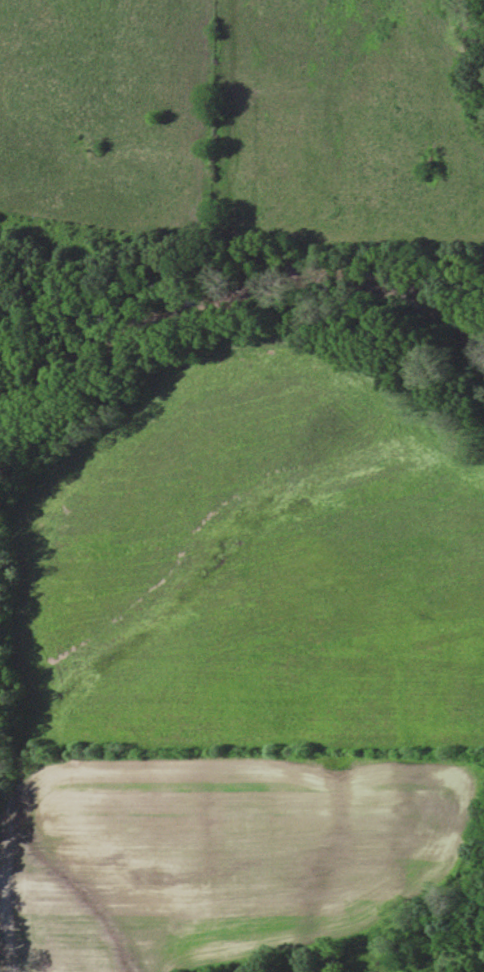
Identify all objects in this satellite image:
river: (475, 19)
river: (255, 284)

